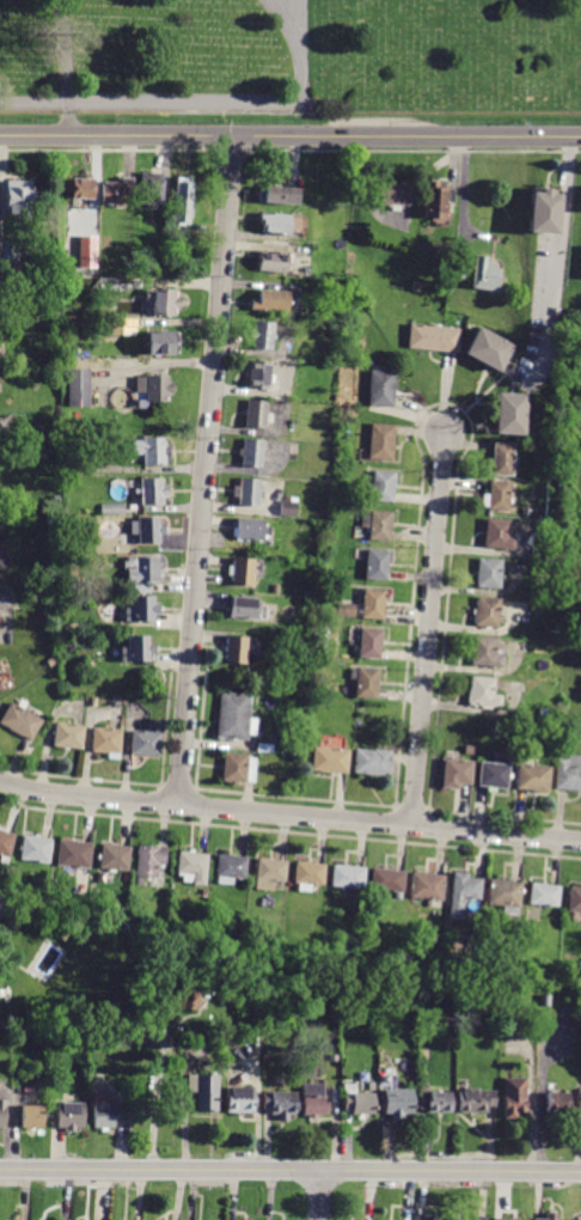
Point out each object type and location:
road: (287, 12)
road: (65, 50)
park: (290, 68)
road: (200, 103)
road: (289, 136)
building: (79, 188)
building: (117, 191)
building: (149, 191)
building: (395, 194)
building: (279, 196)
building: (18, 199)
building: (436, 201)
building: (183, 203)
building: (545, 212)
building: (280, 224)
building: (0, 237)
road: (559, 242)
building: (196, 246)
building: (12, 249)
building: (90, 252)
building: (273, 262)
building: (459, 268)
building: (488, 275)
building: (108, 285)
building: (13, 293)
building: (161, 300)
building: (270, 300)
building: (111, 327)
building: (262, 335)
building: (434, 337)
building: (163, 343)
building: (489, 348)
building: (0, 362)
building: (258, 374)
building: (53, 380)
building: (154, 386)
building: (79, 388)
building: (381, 389)
building: (256, 414)
building: (512, 414)
building: (381, 441)
building: (151, 452)
building: (252, 453)
building: (503, 459)
road: (204, 470)
building: (383, 486)
building: (153, 492)
building: (247, 493)
building: (500, 495)
building: (287, 507)
building: (112, 508)
building: (53, 520)
building: (377, 525)
building: (147, 530)
building: (251, 530)
building: (499, 533)
building: (72, 545)
building: (69, 563)
building: (377, 565)
building: (143, 569)
building: (240, 571)
building: (489, 573)
building: (373, 604)
building: (243, 606)
building: (561, 608)
building: (141, 610)
building: (345, 610)
building: (487, 611)
road: (429, 629)
building: (369, 643)
building: (136, 649)
building: (237, 649)
building: (485, 652)
building: (367, 683)
building: (0, 689)
building: (483, 693)
building: (233, 715)
building: (20, 721)
building: (69, 736)
building: (106, 739)
building: (146, 743)
building: (265, 748)
building: (470, 751)
building: (330, 760)
building: (372, 762)
building: (238, 768)
building: (457, 773)
building: (568, 773)
building: (532, 775)
building: (493, 776)
road: (289, 816)
building: (6, 843)
building: (36, 849)
building: (74, 854)
building: (115, 858)
building: (149, 860)
building: (192, 867)
building: (230, 867)
building: (269, 873)
building: (308, 876)
building: (348, 877)
building: (387, 880)
building: (427, 886)
building: (461, 893)
building: (544, 895)
building: (504, 896)
building: (575, 903)
building: (2, 907)
building: (62, 934)
building: (188, 996)
building: (543, 1000)
building: (569, 1025)
building: (148, 1036)
building: (97, 1042)
building: (203, 1091)
building: (513, 1097)
building: (312, 1099)
building: (239, 1100)
building: (357, 1100)
building: (476, 1100)
road: (153, 1102)
building: (435, 1102)
building: (580, 1102)
building: (398, 1103)
building: (557, 1103)
building: (281, 1104)
building: (2, 1112)
building: (69, 1116)
building: (32, 1117)
building: (103, 1117)
road: (290, 1171)
road: (320, 1195)
building: (549, 1216)
building: (477, 1218)
building: (240, 1219)
building: (513, 1219)
building: (575, 1219)

